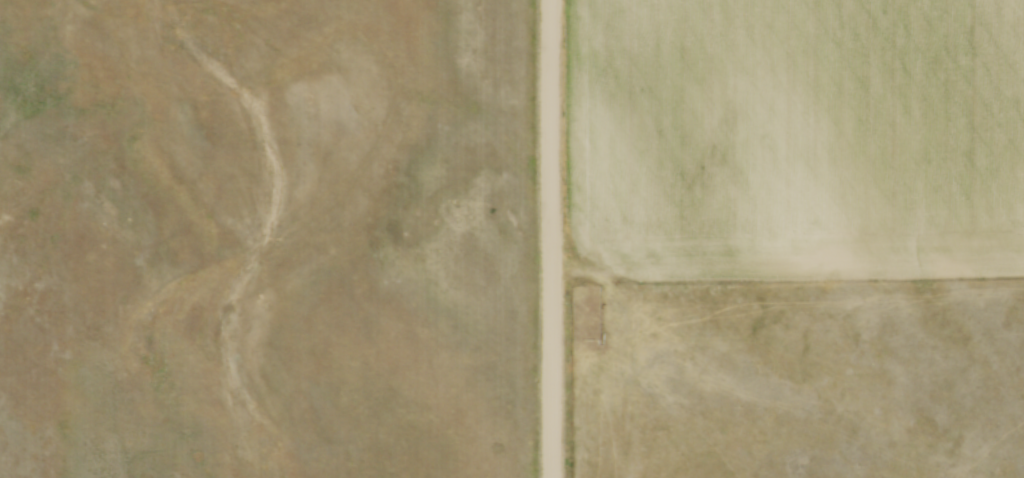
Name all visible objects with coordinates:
crop: (794, 139)
road: (548, 239)

